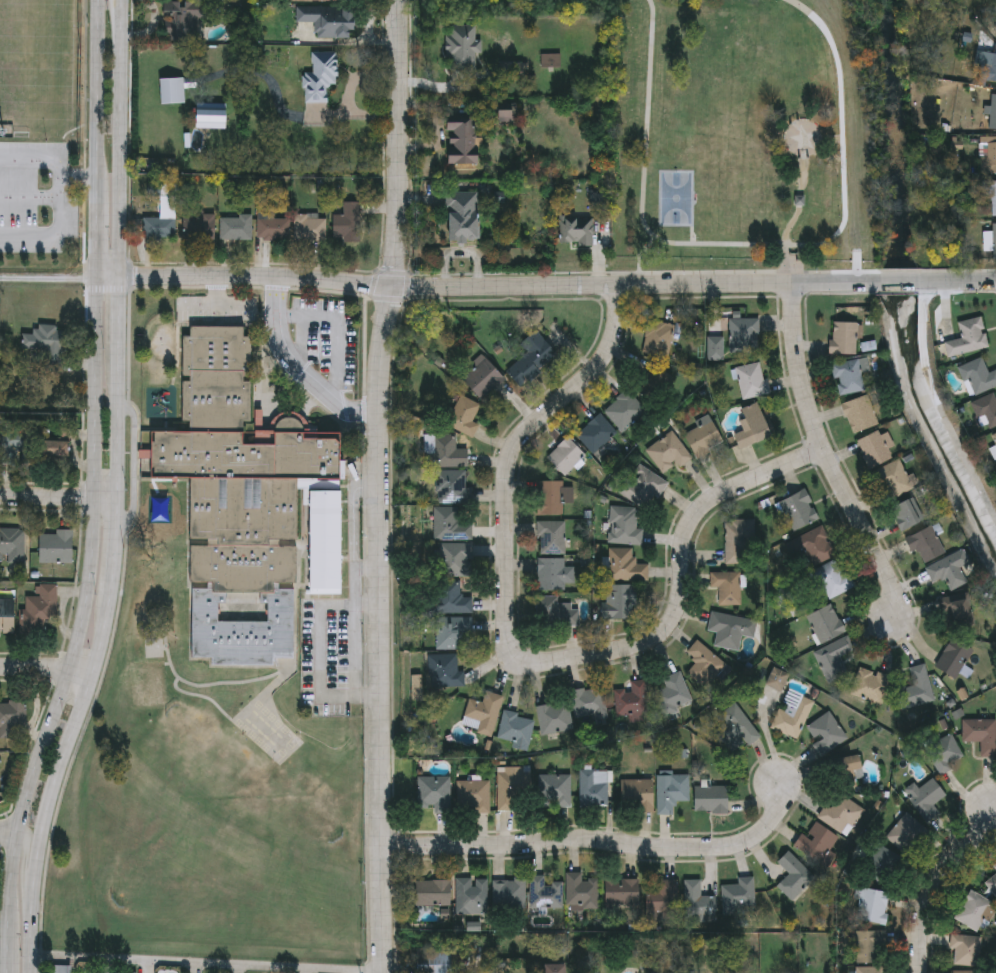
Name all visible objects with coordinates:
building: (318, 1)
building: (184, 17)
building: (329, 18)
building: (995, 27)
building: (995, 29)
building: (471, 49)
building: (552, 62)
building: (988, 67)
building: (514, 72)
building: (319, 75)
road: (100, 101)
building: (993, 112)
building: (211, 113)
park: (731, 122)
road: (800, 123)
building: (465, 140)
road: (832, 142)
building: (988, 155)
road: (35, 162)
road: (79, 176)
building: (990, 193)
road: (29, 199)
park: (675, 199)
building: (464, 215)
road: (792, 221)
building: (349, 222)
building: (200, 225)
building: (159, 227)
building: (236, 227)
building: (274, 227)
building: (310, 228)
road: (54, 231)
building: (576, 232)
road: (691, 237)
road: (100, 241)
building: (994, 242)
road: (756, 245)
road: (641, 253)
road: (50, 278)
road: (959, 281)
road: (900, 282)
road: (488, 286)
building: (742, 336)
building: (843, 338)
building: (967, 338)
building: (656, 339)
building: (45, 346)
building: (527, 358)
road: (298, 367)
building: (480, 377)
building: (847, 377)
building: (976, 377)
building: (750, 381)
building: (622, 410)
building: (985, 411)
building: (460, 413)
building: (859, 414)
building: (752, 426)
building: (593, 433)
building: (702, 436)
building: (994, 437)
building: (13, 444)
building: (874, 449)
building: (443, 450)
building: (55, 451)
building: (665, 452)
building: (564, 455)
road: (829, 462)
building: (893, 479)
road: (377, 485)
building: (449, 487)
building: (641, 487)
road: (119, 492)
building: (547, 497)
road: (59, 498)
building: (248, 502)
building: (159, 506)
building: (797, 509)
building: (905, 513)
building: (447, 524)
building: (621, 525)
building: (548, 537)
building: (735, 540)
building: (924, 543)
building: (12, 545)
building: (56, 546)
building: (812, 546)
building: (452, 559)
building: (623, 565)
building: (948, 569)
building: (551, 574)
building: (832, 579)
building: (725, 587)
building: (450, 599)
building: (618, 602)
building: (39, 609)
building: (956, 610)
building: (553, 611)
building: (7, 616)
building: (825, 624)
road: (80, 625)
building: (729, 629)
building: (451, 632)
building: (833, 658)
building: (952, 658)
building: (706, 660)
road: (516, 663)
road: (47, 667)
building: (441, 671)
building: (777, 679)
building: (869, 686)
building: (916, 688)
building: (672, 695)
building: (631, 701)
building: (587, 703)
building: (480, 713)
building: (792, 714)
building: (553, 718)
building: (12, 720)
building: (734, 726)
building: (514, 729)
building: (826, 734)
building: (956, 745)
building: (847, 772)
building: (510, 786)
building: (593, 788)
building: (557, 791)
building: (670, 792)
building: (433, 793)
building: (471, 796)
building: (636, 796)
building: (710, 799)
building: (926, 799)
building: (840, 815)
building: (904, 833)
road: (8, 834)
road: (596, 840)
building: (816, 843)
road: (26, 862)
building: (879, 864)
building: (994, 867)
building: (793, 875)
road: (937, 879)
building: (992, 884)
building: (544, 892)
building: (580, 892)
building: (432, 893)
building: (471, 893)
building: (508, 893)
building: (621, 893)
building: (739, 895)
building: (697, 902)
building: (663, 903)
building: (872, 907)
building: (973, 911)
building: (869, 946)
building: (964, 950)
building: (434, 960)
road: (176, 966)
road: (8, 968)
building: (870, 970)
building: (965, 972)

